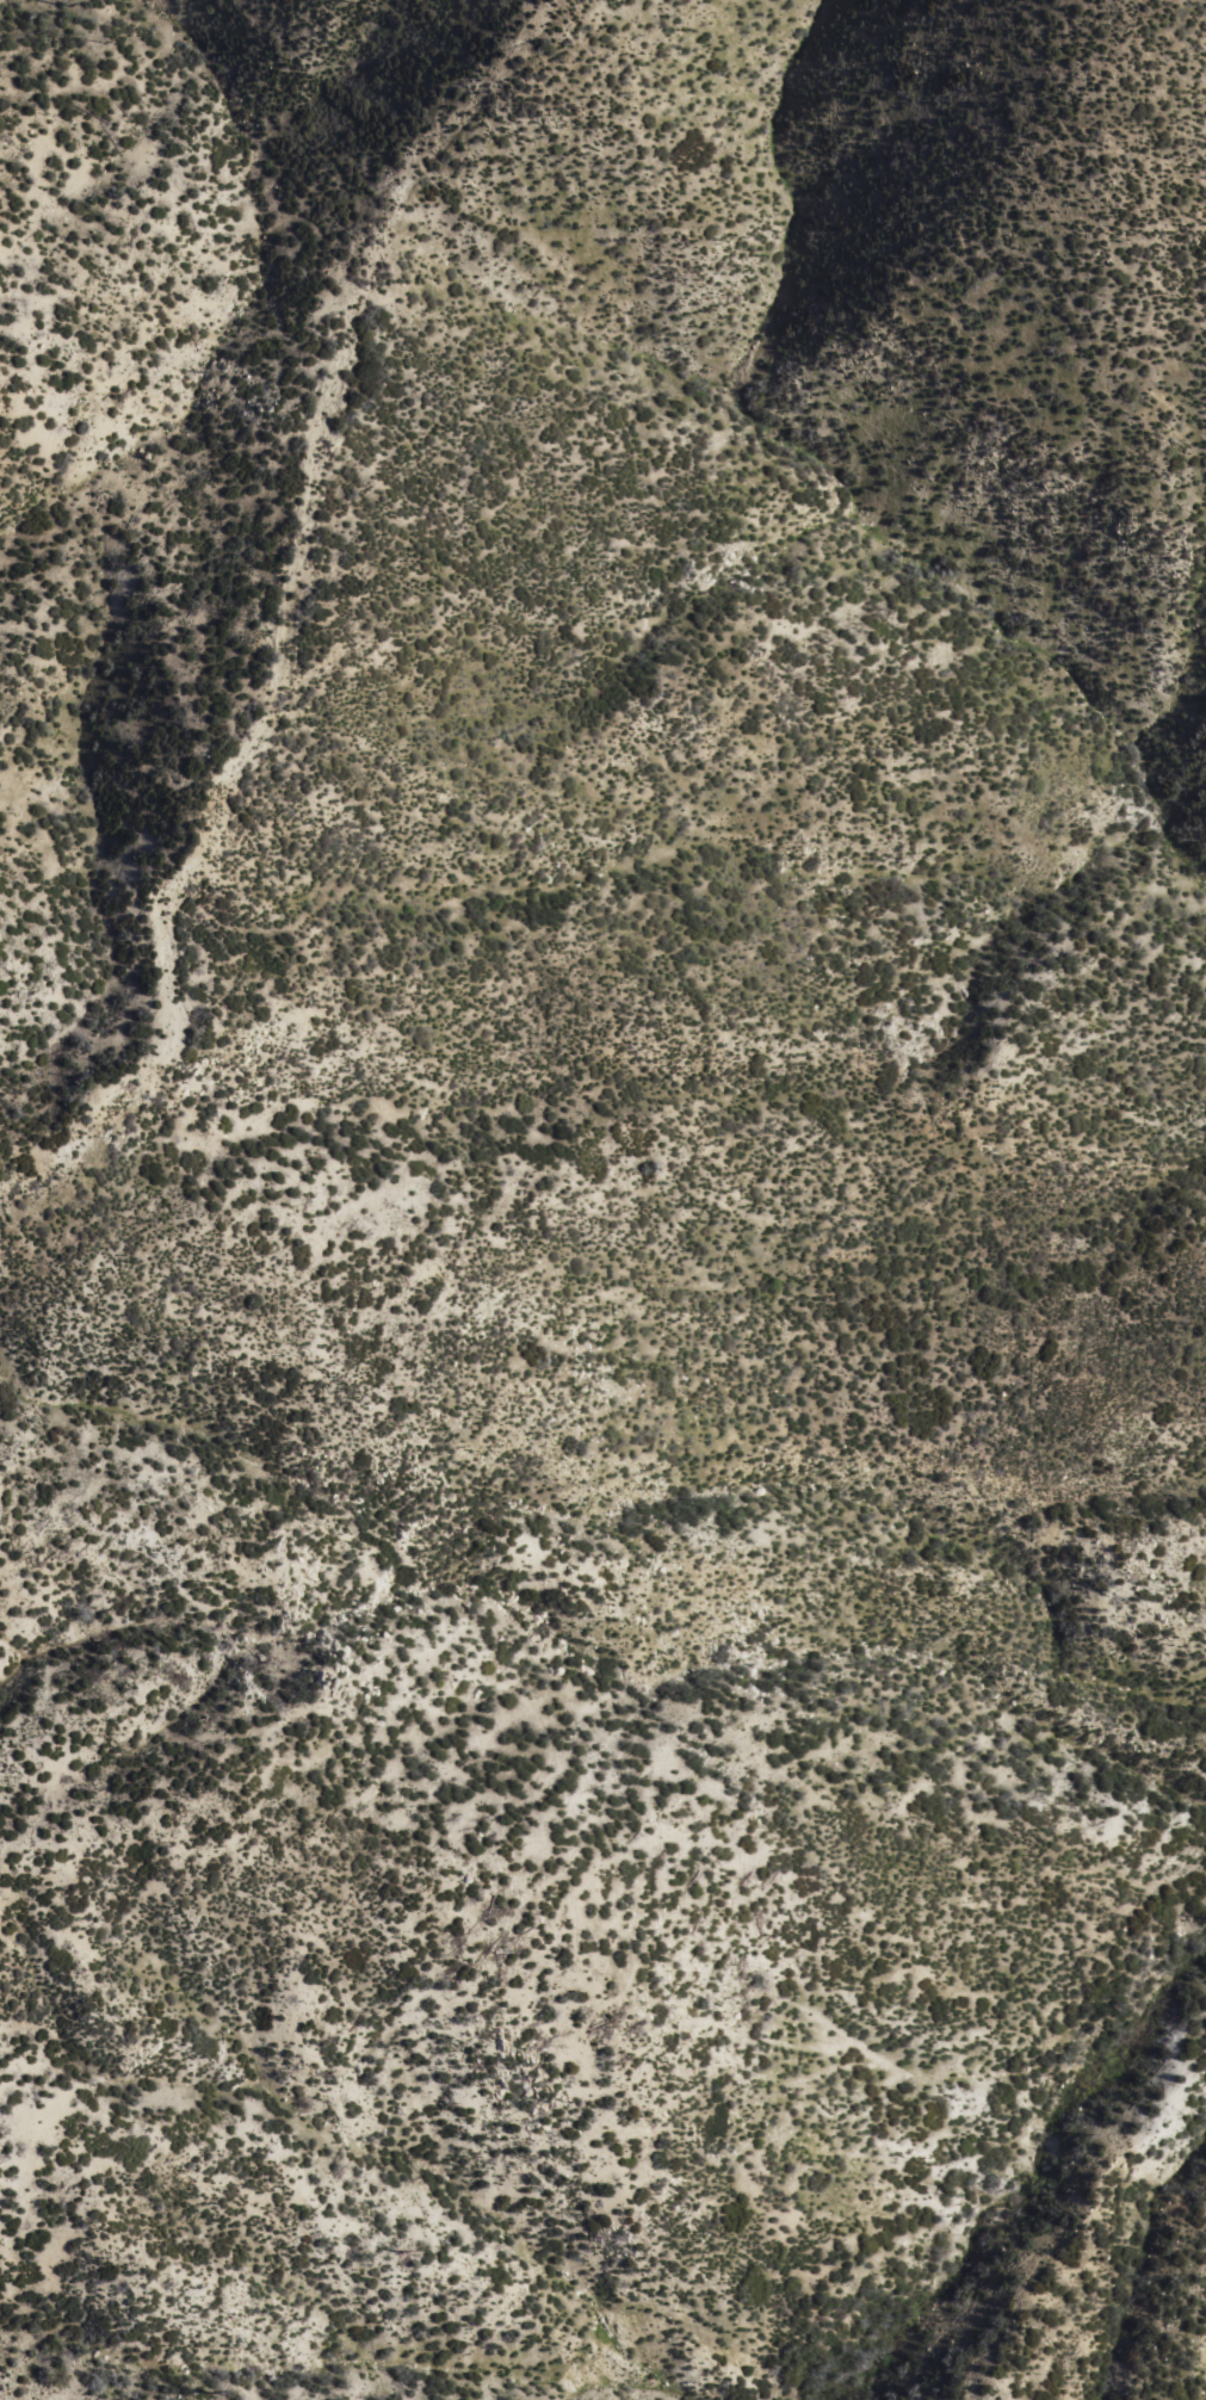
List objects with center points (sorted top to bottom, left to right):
road: (19, 2394)

